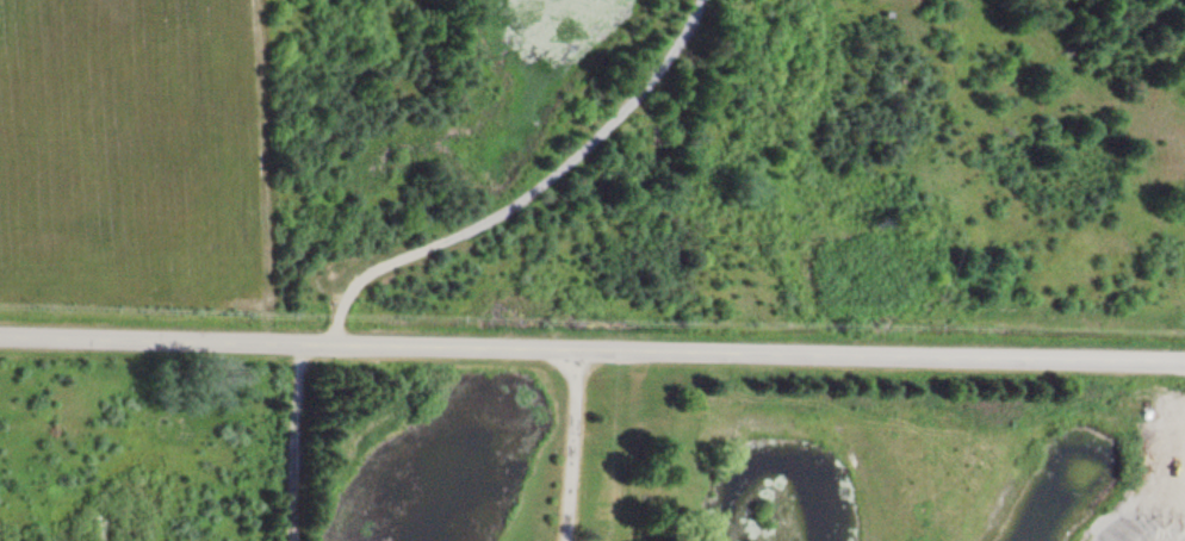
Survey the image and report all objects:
road: (527, 194)
road: (591, 347)

